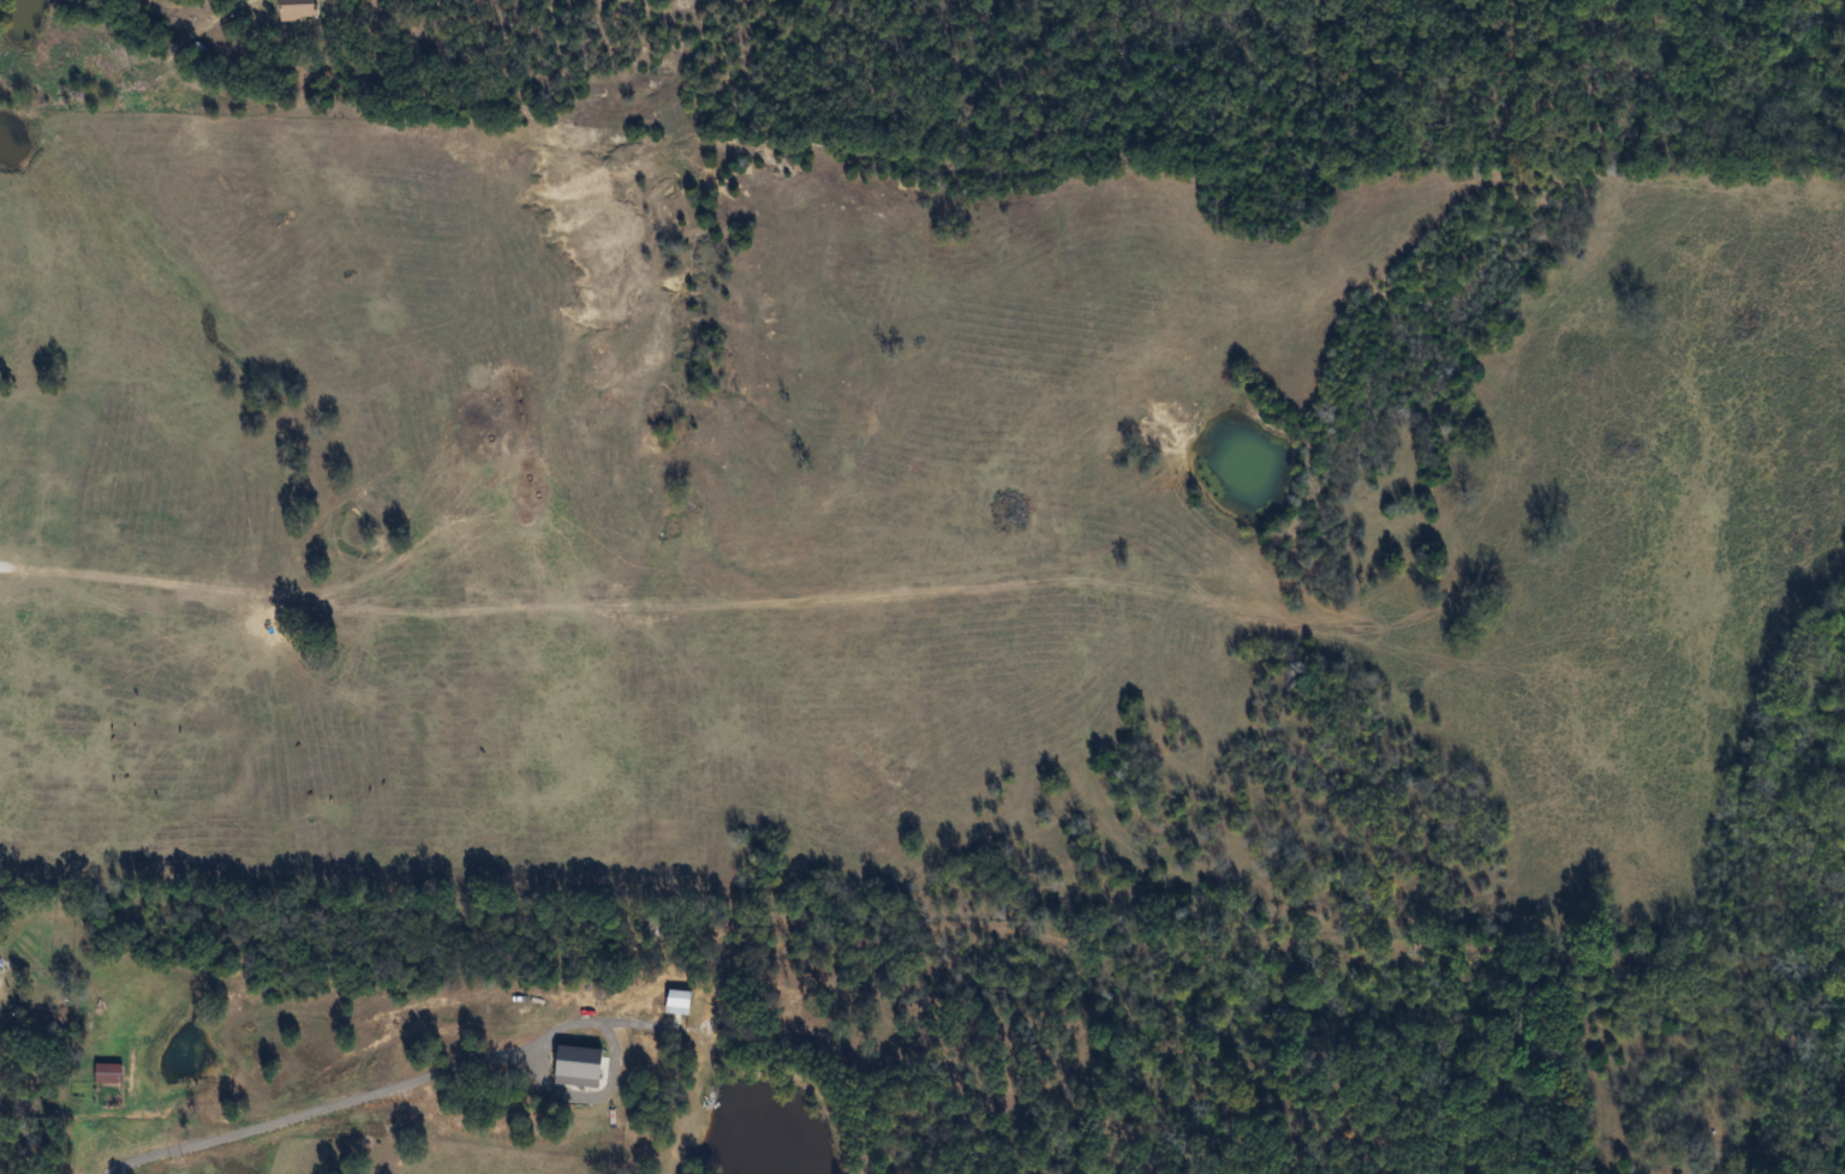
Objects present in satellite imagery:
building: (106, 1073)
road: (320, 1108)

